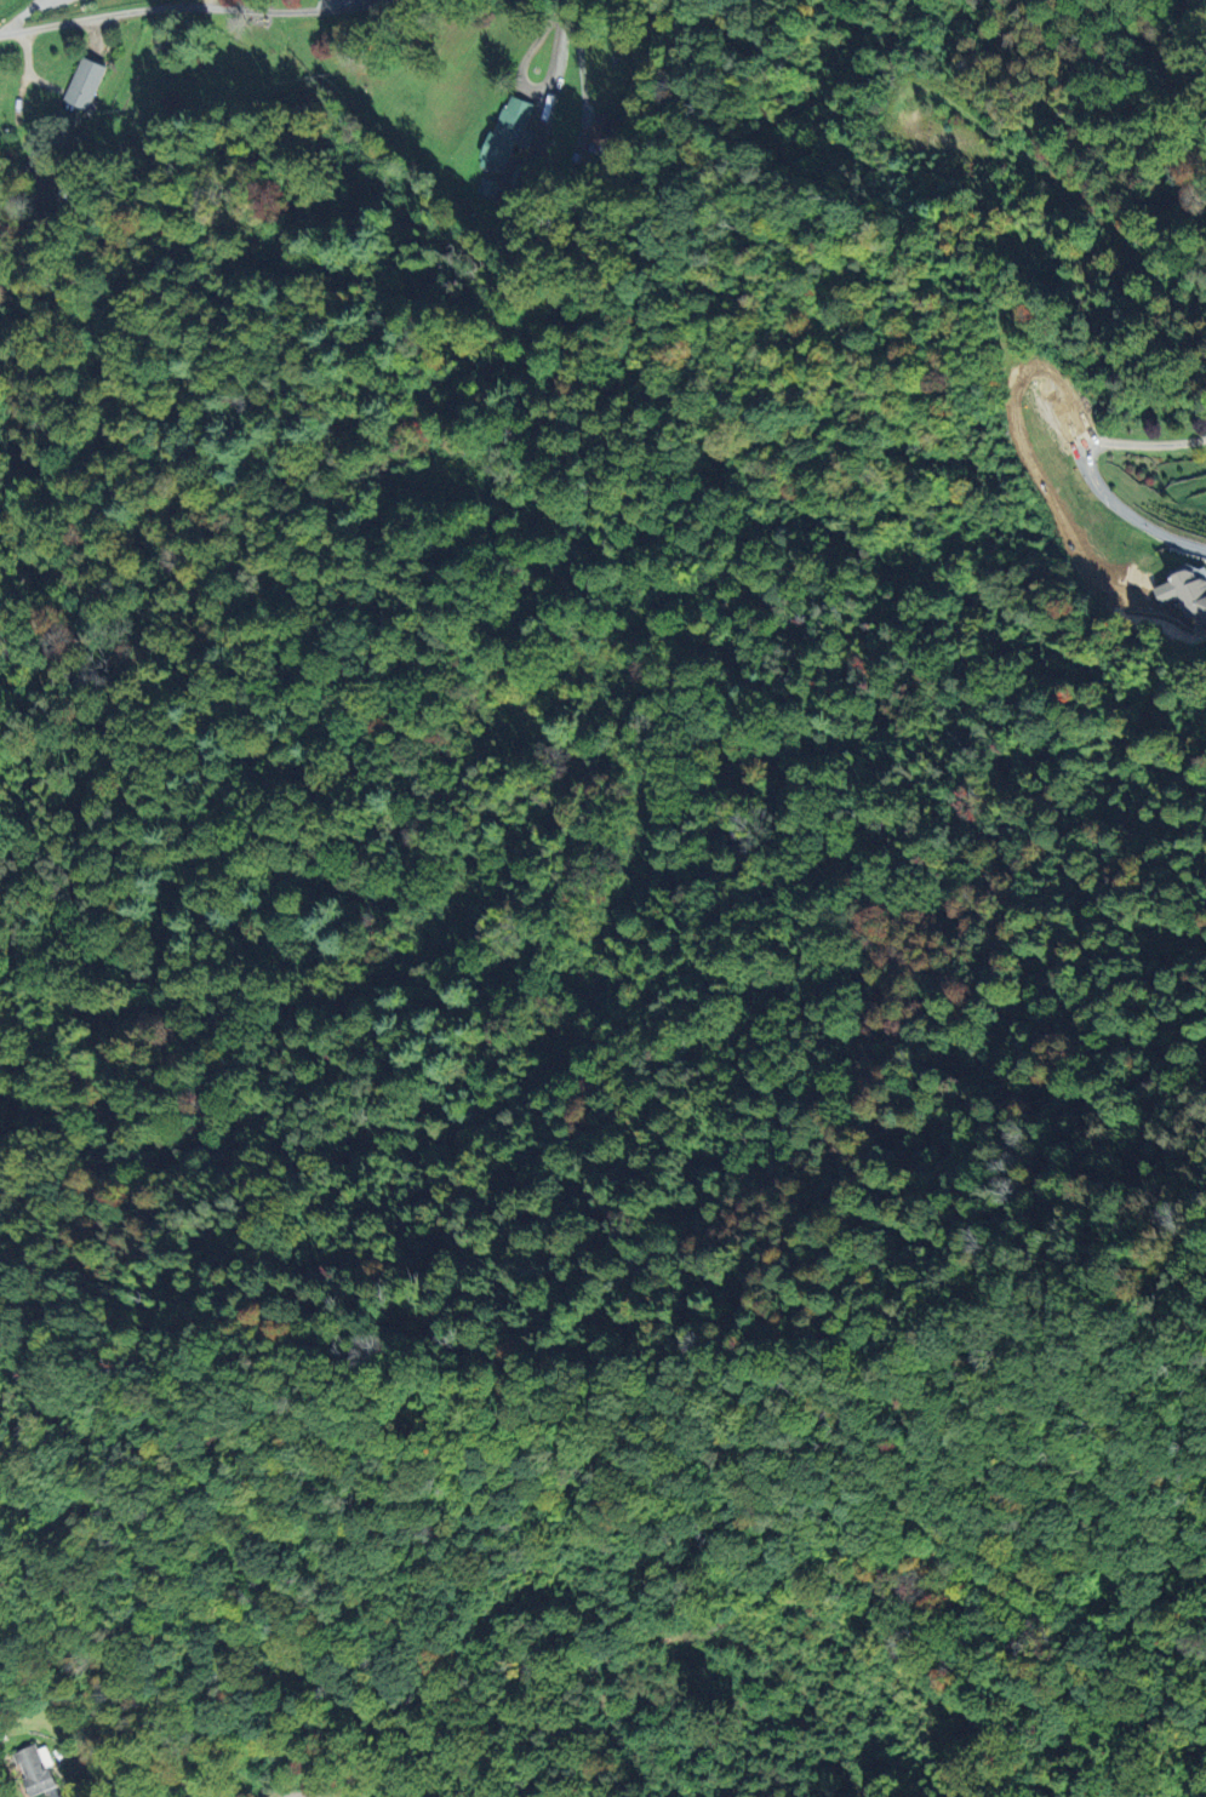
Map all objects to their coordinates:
road: (562, 0)
road: (189, 10)
road: (578, 65)
road: (554, 76)
building: (84, 84)
building: (600, 128)
building: (509, 133)
road: (1088, 473)
building: (1187, 591)
building: (35, 1768)
road: (295, 1793)

